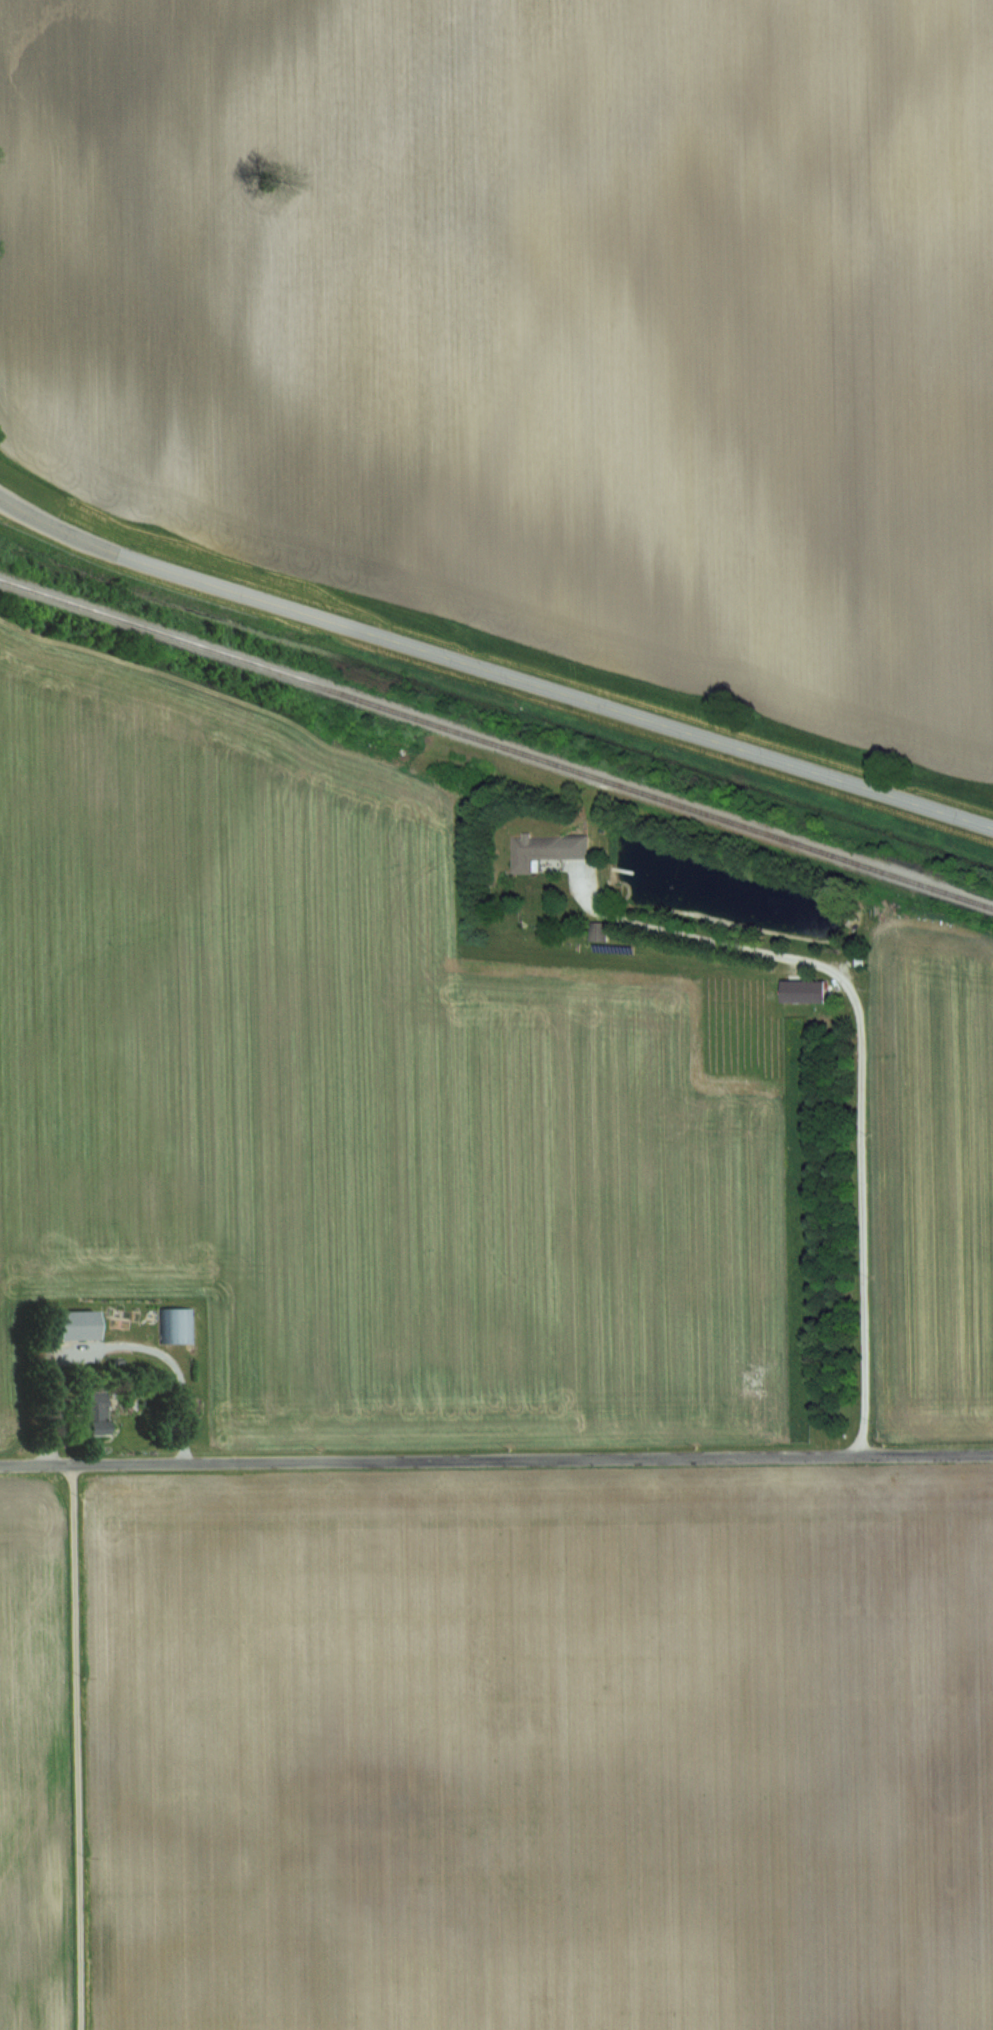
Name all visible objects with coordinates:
road: (492, 671)
railway: (496, 744)
building: (534, 850)
building: (803, 991)
road: (862, 1104)
building: (72, 1324)
building: (178, 1325)
road: (174, 1364)
building: (91, 1415)
road: (496, 1459)
road: (75, 1748)

